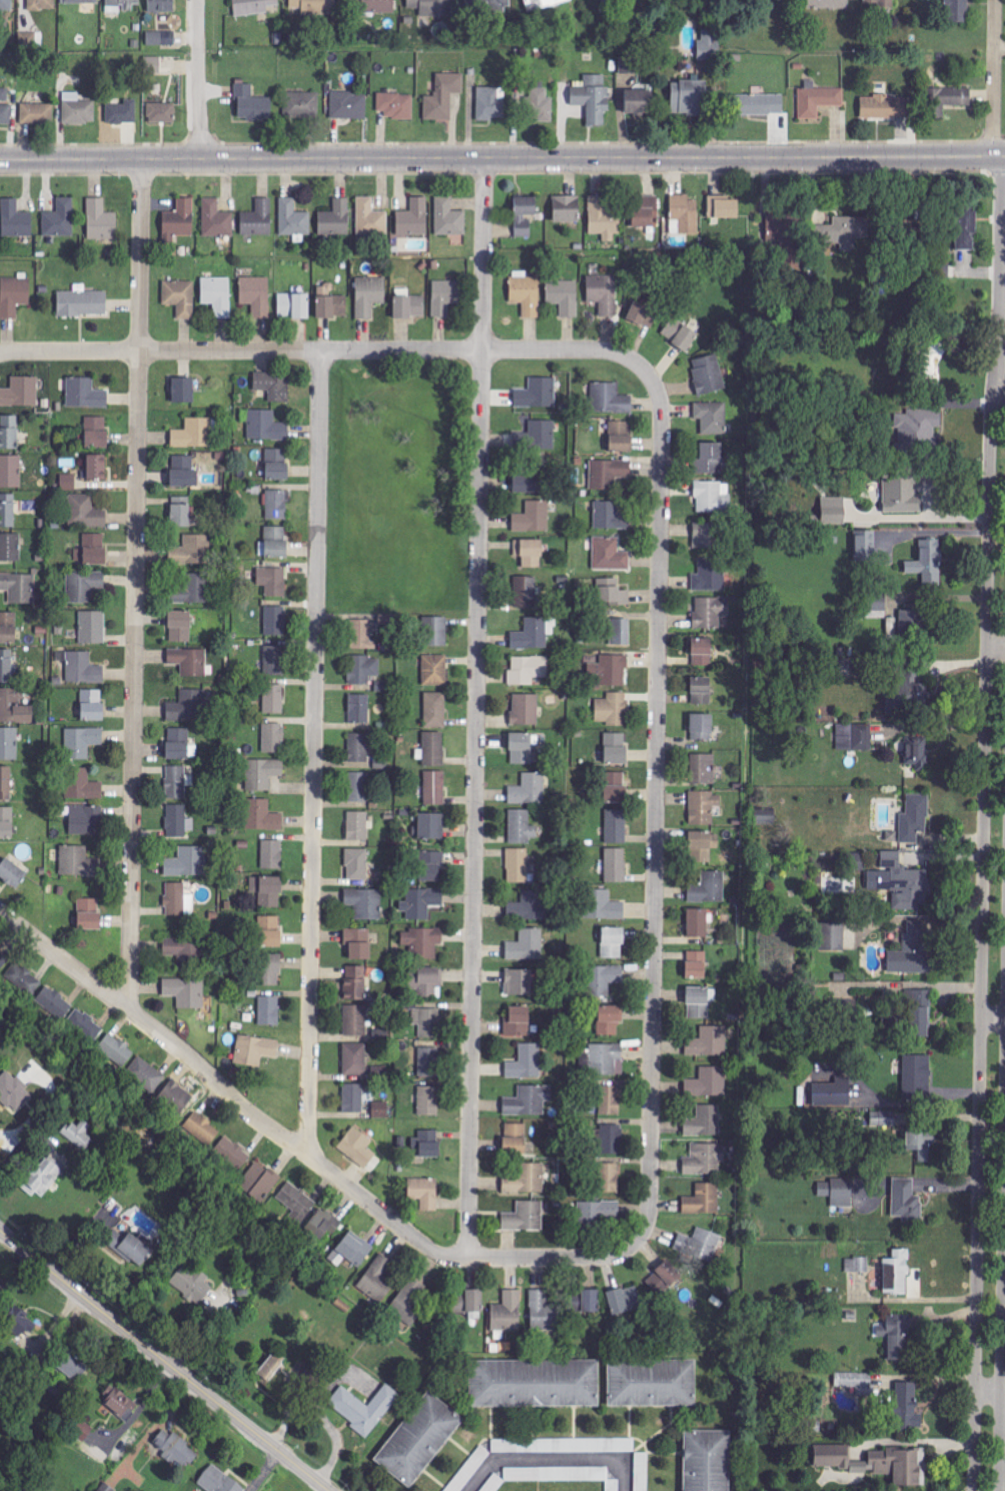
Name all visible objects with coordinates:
building: (80, 1)
building: (545, 3)
building: (883, 3)
building: (42, 4)
building: (829, 4)
building: (6, 5)
building: (121, 5)
building: (374, 5)
building: (488, 5)
building: (161, 6)
building: (313, 6)
building: (256, 7)
building: (430, 7)
building: (958, 10)
building: (161, 37)
building: (710, 45)
building: (152, 65)
building: (629, 65)
road: (995, 76)
road: (198, 80)
building: (443, 96)
building: (688, 97)
building: (951, 97)
building: (593, 98)
building: (818, 100)
building: (640, 101)
building: (491, 103)
building: (543, 103)
building: (252, 104)
building: (301, 104)
building: (759, 104)
building: (349, 105)
building: (397, 105)
building: (886, 106)
building: (5, 107)
building: (78, 110)
building: (122, 112)
building: (162, 112)
building: (37, 113)
road: (502, 159)
building: (724, 207)
building: (567, 208)
building: (646, 213)
building: (685, 213)
building: (525, 215)
building: (604, 217)
building: (180, 218)
building: (259, 218)
building: (294, 218)
building: (371, 218)
building: (414, 218)
building: (449, 218)
building: (15, 219)
building: (60, 219)
building: (217, 219)
building: (336, 219)
building: (101, 220)
building: (783, 228)
building: (966, 228)
building: (844, 231)
building: (897, 238)
road: (1004, 288)
building: (527, 293)
building: (604, 294)
building: (218, 295)
building: (256, 295)
building: (369, 295)
building: (14, 296)
building: (180, 297)
building: (444, 297)
building: (564, 297)
building: (82, 302)
building: (331, 303)
building: (294, 306)
building: (410, 306)
building: (643, 314)
road: (1004, 318)
building: (680, 334)
road: (332, 351)
building: (708, 375)
building: (273, 385)
building: (183, 390)
building: (21, 392)
building: (85, 393)
building: (537, 394)
building: (610, 399)
building: (712, 417)
building: (266, 426)
building: (9, 432)
building: (96, 432)
building: (918, 432)
building: (193, 434)
building: (539, 435)
building: (620, 437)
building: (710, 459)
building: (277, 464)
building: (97, 467)
building: (10, 471)
building: (184, 472)
building: (609, 473)
building: (68, 482)
building: (525, 483)
building: (905, 493)
building: (712, 498)
building: (277, 504)
building: (7, 510)
building: (834, 510)
building: (86, 512)
building: (181, 512)
building: (609, 516)
building: (533, 518)
building: (708, 535)
building: (276, 542)
building: (866, 546)
building: (10, 547)
building: (196, 549)
building: (92, 550)
building: (530, 553)
building: (610, 554)
building: (928, 563)
building: (710, 576)
building: (273, 581)
road: (136, 583)
building: (84, 586)
building: (19, 587)
building: (193, 590)
building: (526, 592)
building: (613, 593)
building: (711, 612)
building: (275, 621)
building: (912, 624)
building: (180, 626)
building: (92, 627)
building: (8, 628)
building: (436, 631)
building: (620, 632)
building: (534, 634)
building: (362, 635)
building: (702, 652)
building: (274, 660)
building: (189, 661)
building: (6, 666)
building: (83, 669)
building: (363, 669)
building: (435, 670)
building: (527, 670)
building: (610, 670)
building: (702, 691)
building: (910, 696)
building: (274, 699)
building: (92, 705)
building: (187, 706)
building: (15, 707)
building: (360, 709)
road: (476, 709)
building: (525, 709)
building: (436, 710)
building: (612, 710)
building: (702, 727)
building: (854, 737)
building: (273, 738)
building: (82, 742)
building: (9, 743)
building: (178, 744)
building: (359, 748)
building: (523, 748)
building: (616, 748)
building: (433, 749)
road: (313, 752)
building: (917, 753)
building: (703, 769)
building: (263, 773)
building: (176, 782)
building: (5, 783)
building: (83, 785)
building: (358, 787)
building: (616, 787)
building: (435, 788)
building: (529, 790)
road: (656, 803)
building: (703, 807)
building: (262, 816)
building: (765, 817)
building: (915, 818)
building: (86, 820)
building: (178, 821)
building: (6, 823)
building: (358, 826)
building: (616, 826)
building: (431, 827)
building: (522, 827)
building: (704, 845)
building: (272, 855)
building: (78, 862)
building: (187, 863)
building: (357, 865)
building: (616, 865)
building: (517, 866)
building: (431, 867)
building: (12, 873)
building: (901, 881)
building: (709, 889)
building: (268, 891)
building: (175, 899)
road: (982, 902)
building: (365, 903)
building: (421, 903)
building: (604, 906)
building: (530, 907)
building: (89, 914)
building: (698, 923)
building: (270, 932)
building: (834, 937)
building: (423, 942)
building: (613, 943)
building: (359, 944)
building: (527, 946)
building: (182, 949)
building: (912, 952)
building: (697, 965)
building: (269, 971)
building: (17, 975)
building: (605, 980)
building: (424, 982)
building: (519, 983)
building: (356, 984)
building: (185, 992)
building: (700, 1002)
building: (54, 1003)
building: (269, 1011)
building: (921, 1014)
building: (610, 1020)
building: (355, 1021)
building: (891, 1021)
building: (428, 1022)
building: (517, 1022)
building: (85, 1026)
building: (709, 1042)
building: (115, 1049)
building: (255, 1050)
building: (355, 1060)
building: (606, 1060)
building: (428, 1063)
building: (526, 1063)
building: (145, 1074)
building: (916, 1079)
building: (709, 1083)
building: (12, 1092)
building: (833, 1094)
building: (176, 1098)
building: (353, 1098)
building: (428, 1101)
building: (529, 1101)
building: (610, 1101)
building: (380, 1110)
building: (884, 1119)
building: (704, 1122)
road: (19, 1126)
building: (202, 1129)
building: (78, 1135)
building: (515, 1139)
building: (611, 1139)
building: (427, 1144)
building: (922, 1144)
building: (359, 1147)
building: (232, 1153)
road: (305, 1153)
building: (705, 1160)
building: (44, 1177)
building: (609, 1178)
building: (525, 1180)
building: (259, 1181)
building: (838, 1192)
building: (425, 1193)
building: (703, 1200)
building: (907, 1202)
building: (600, 1211)
building: (525, 1217)
building: (324, 1225)
building: (701, 1245)
building: (132, 1246)
building: (355, 1249)
building: (336, 1257)
building: (858, 1265)
building: (897, 1274)
building: (378, 1279)
building: (664, 1279)
building: (191, 1285)
building: (625, 1301)
building: (410, 1302)
building: (591, 1302)
building: (544, 1312)
building: (508, 1313)
building: (17, 1320)
road: (1002, 1325)
road: (199, 1327)
building: (898, 1337)
road: (163, 1361)
building: (271, 1370)
building: (856, 1381)
building: (652, 1383)
building: (535, 1384)
building: (120, 1401)
building: (908, 1405)
road: (140, 1407)
building: (364, 1407)
road: (329, 1424)
building: (82, 1429)
building: (419, 1438)
building: (563, 1445)
building: (175, 1447)
building: (832, 1455)
building: (708, 1460)
road: (556, 1461)
building: (892, 1466)
building: (469, 1469)
building: (642, 1471)
building: (562, 1474)
building: (219, 1481)
building: (494, 1483)

